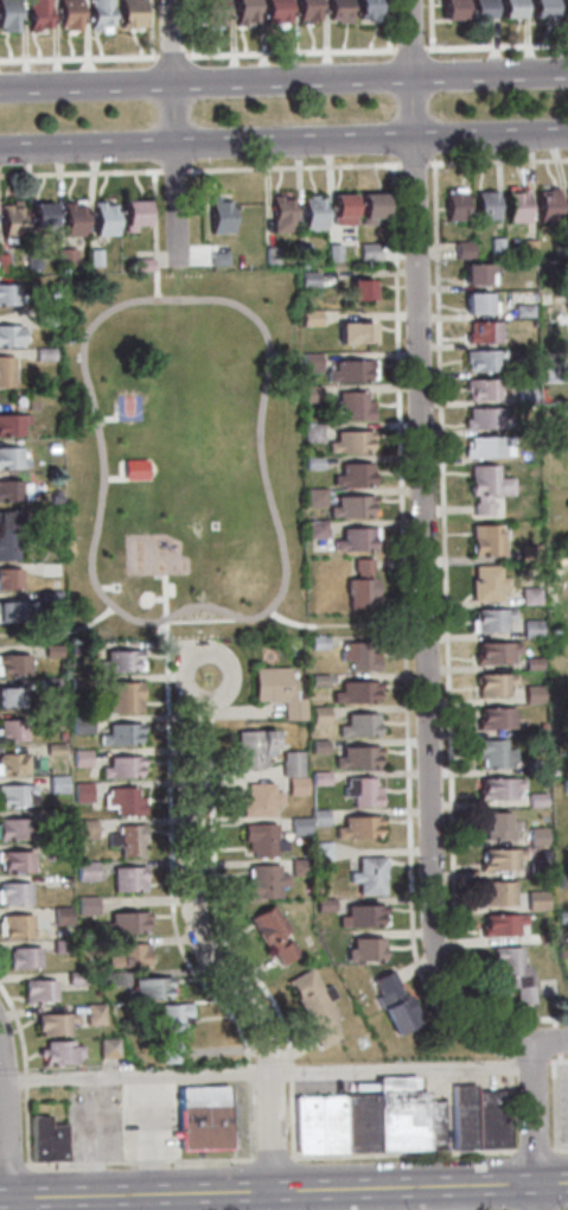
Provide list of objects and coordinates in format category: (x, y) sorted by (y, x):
building: (508, 8)
building: (540, 8)
building: (563, 8)
building: (305, 9)
building: (365, 9)
building: (449, 9)
building: (478, 9)
building: (241, 11)
building: (273, 11)
building: (337, 11)
building: (210, 12)
building: (97, 13)
building: (128, 13)
building: (34, 14)
building: (66, 14)
building: (7, 15)
road: (388, 30)
road: (430, 31)
road: (149, 32)
road: (191, 33)
road: (494, 49)
road: (409, 52)
road: (291, 56)
road: (171, 58)
road: (78, 60)
road: (191, 75)
road: (283, 79)
road: (427, 107)
road: (395, 108)
road: (157, 114)
road: (171, 133)
road: (283, 140)
road: (496, 161)
road: (411, 164)
road: (291, 166)
road: (172, 170)
road: (79, 172)
building: (567, 205)
building: (452, 206)
building: (484, 206)
building: (513, 206)
building: (544, 206)
building: (368, 208)
road: (151, 209)
building: (339, 210)
building: (311, 212)
building: (130, 215)
building: (279, 215)
building: (217, 216)
building: (39, 217)
building: (102, 219)
building: (70, 221)
building: (8, 222)
building: (494, 246)
building: (556, 247)
building: (460, 250)
building: (525, 250)
building: (331, 251)
building: (365, 251)
building: (300, 253)
building: (268, 255)
road: (161, 256)
building: (92, 257)
building: (63, 259)
building: (217, 259)
building: (31, 261)
building: (2, 263)
building: (141, 265)
building: (476, 275)
building: (306, 279)
building: (358, 291)
building: (7, 294)
building: (477, 304)
building: (566, 304)
building: (521, 311)
building: (43, 317)
building: (308, 318)
building: (481, 332)
building: (353, 335)
building: (8, 336)
building: (43, 354)
building: (480, 361)
building: (308, 362)
building: (524, 365)
building: (549, 367)
building: (4, 372)
building: (349, 372)
building: (481, 389)
building: (309, 394)
building: (523, 396)
building: (352, 406)
building: (483, 419)
building: (11, 425)
building: (309, 433)
building: (347, 442)
building: (51, 447)
building: (483, 447)
building: (11, 459)
park: (184, 463)
building: (311, 464)
building: (351, 476)
building: (484, 488)
building: (12, 491)
building: (312, 498)
building: (52, 499)
building: (347, 508)
building: (313, 529)
building: (7, 534)
building: (485, 539)
building: (352, 541)
road: (421, 547)
building: (526, 553)
building: (49, 569)
building: (530, 572)
building: (8, 579)
building: (484, 584)
building: (359, 586)
building: (528, 596)
building: (47, 599)
road: (162, 610)
building: (14, 611)
building: (489, 620)
road: (442, 624)
road: (355, 625)
building: (529, 629)
building: (551, 629)
road: (33, 632)
building: (317, 643)
building: (78, 650)
building: (52, 651)
building: (492, 652)
building: (357, 657)
building: (119, 661)
building: (531, 664)
building: (13, 665)
road: (403, 679)
building: (315, 681)
building: (78, 682)
building: (46, 684)
building: (491, 686)
building: (276, 692)
building: (353, 694)
building: (530, 694)
building: (121, 698)
building: (555, 698)
building: (11, 699)
road: (209, 712)
building: (318, 715)
building: (51, 717)
building: (492, 719)
building: (79, 725)
building: (357, 727)
building: (12, 732)
building: (119, 735)
building: (317, 746)
building: (53, 749)
building: (251, 749)
building: (492, 753)
building: (79, 757)
building: (355, 758)
building: (12, 764)
building: (291, 764)
building: (120, 768)
building: (531, 768)
building: (550, 772)
building: (318, 778)
building: (56, 783)
building: (564, 785)
building: (294, 786)
building: (496, 789)
building: (81, 792)
building: (360, 792)
building: (13, 796)
building: (534, 800)
building: (257, 801)
building: (122, 802)
building: (56, 816)
building: (317, 817)
building: (493, 826)
building: (299, 827)
building: (84, 828)
building: (356, 828)
building: (13, 830)
building: (537, 836)
building: (261, 840)
building: (128, 841)
building: (56, 851)
building: (320, 851)
building: (498, 860)
building: (14, 864)
building: (296, 867)
building: (535, 868)
building: (84, 872)
building: (366, 877)
building: (127, 879)
building: (562, 880)
building: (262, 884)
building: (13, 894)
building: (494, 894)
building: (535, 900)
building: (323, 905)
building: (85, 906)
road: (171, 915)
building: (60, 916)
building: (360, 917)
building: (561, 917)
building: (126, 923)
building: (499, 925)
building: (14, 926)
building: (270, 935)
building: (59, 947)
road: (225, 947)
road: (203, 950)
building: (363, 951)
building: (561, 951)
building: (127, 956)
building: (23, 959)
building: (511, 972)
building: (75, 979)
building: (108, 980)
building: (567, 980)
building: (147, 989)
building: (38, 992)
building: (397, 1004)
building: (318, 1006)
building: (100, 1015)
building: (60, 1024)
road: (560, 1024)
building: (179, 1030)
road: (562, 1040)
road: (550, 1042)
building: (114, 1047)
building: (66, 1052)
road: (517, 1055)
road: (566, 1057)
road: (536, 1058)
road: (556, 1062)
road: (272, 1072)
road: (30, 1074)
road: (5, 1081)
road: (559, 1101)
building: (406, 1113)
building: (470, 1116)
road: (9, 1117)
building: (209, 1117)
building: (497, 1120)
building: (366, 1122)
building: (314, 1123)
building: (338, 1123)
building: (440, 1123)
road: (538, 1125)
road: (155, 1134)
road: (96, 1135)
building: (52, 1140)
road: (5, 1142)
road: (562, 1149)
road: (540, 1151)
road: (409, 1153)
road: (277, 1158)
road: (143, 1161)
road: (14, 1166)
road: (554, 1183)
road: (270, 1191)
road: (458, 1197)
road: (327, 1199)
road: (184, 1202)

